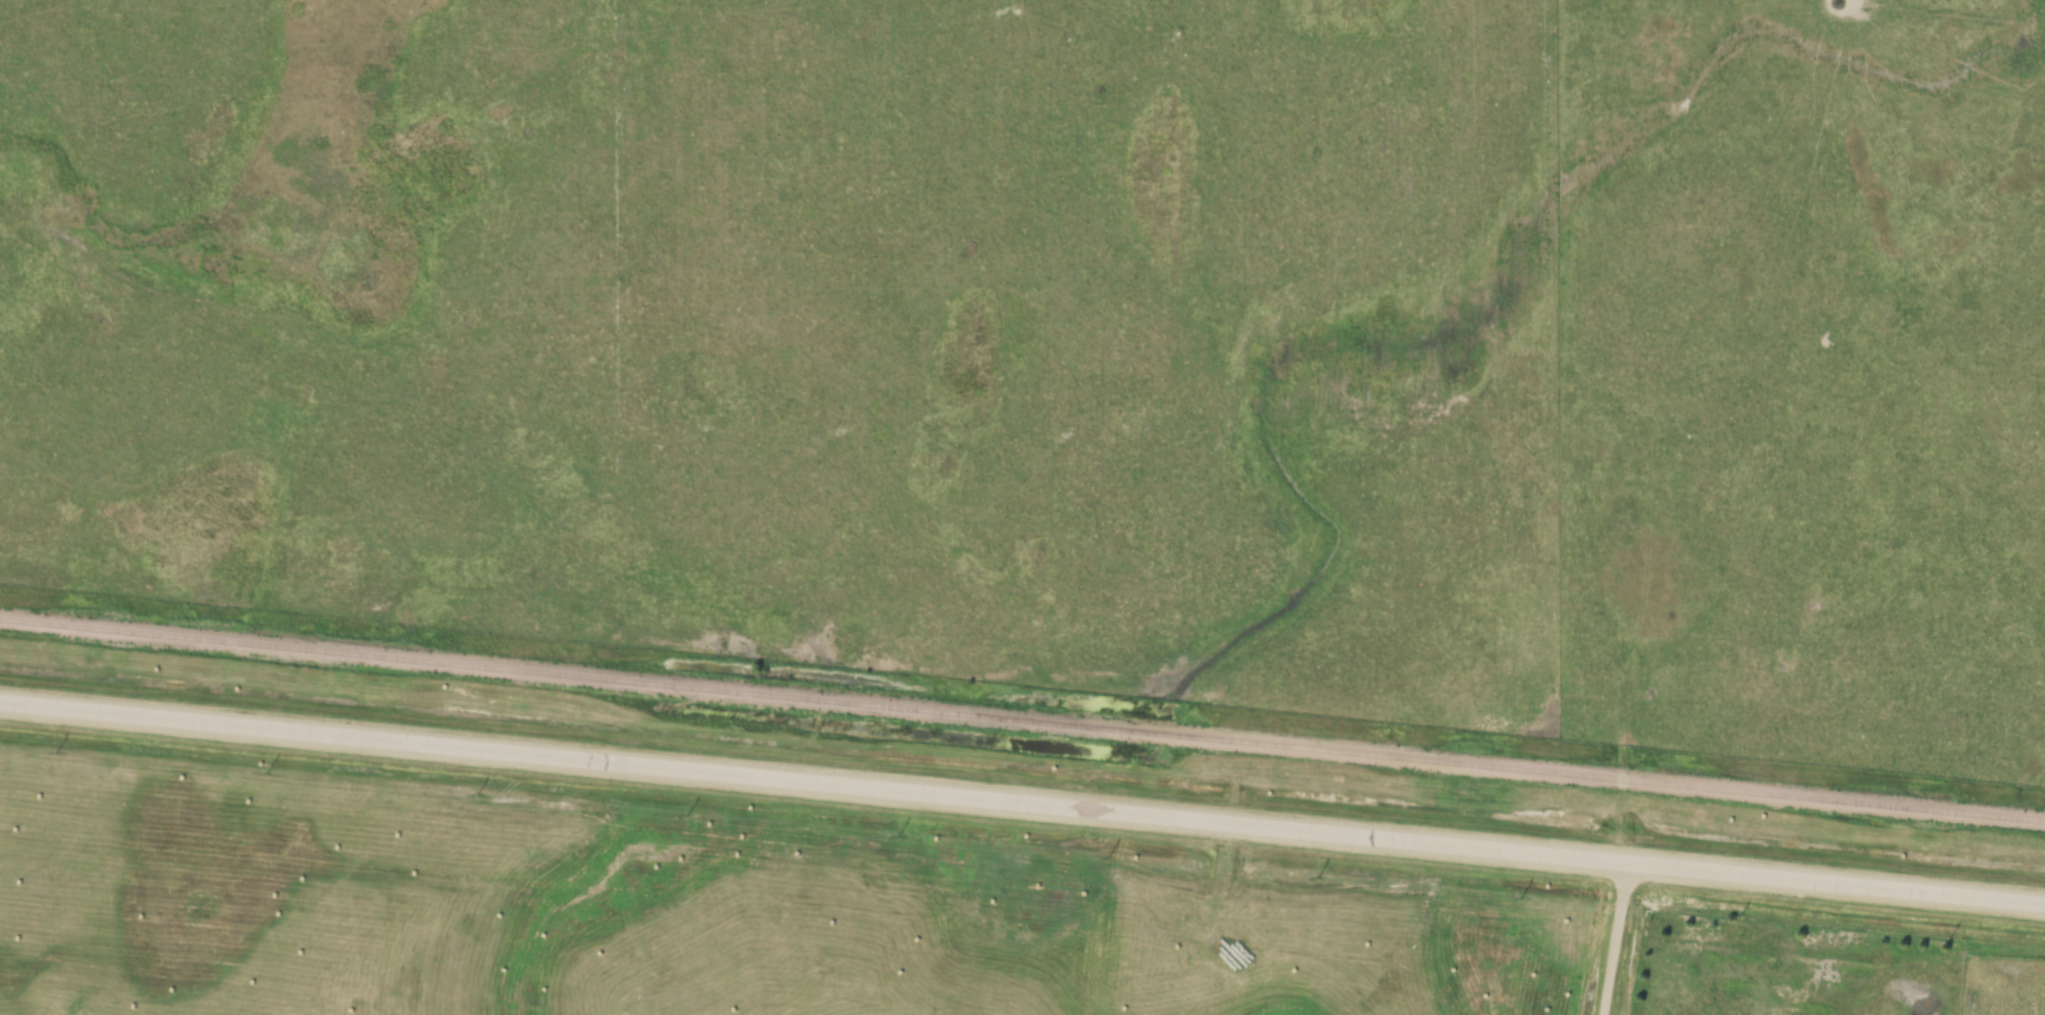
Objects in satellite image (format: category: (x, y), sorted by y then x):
railway: (1022, 719)
road: (1022, 800)
road: (1612, 937)

